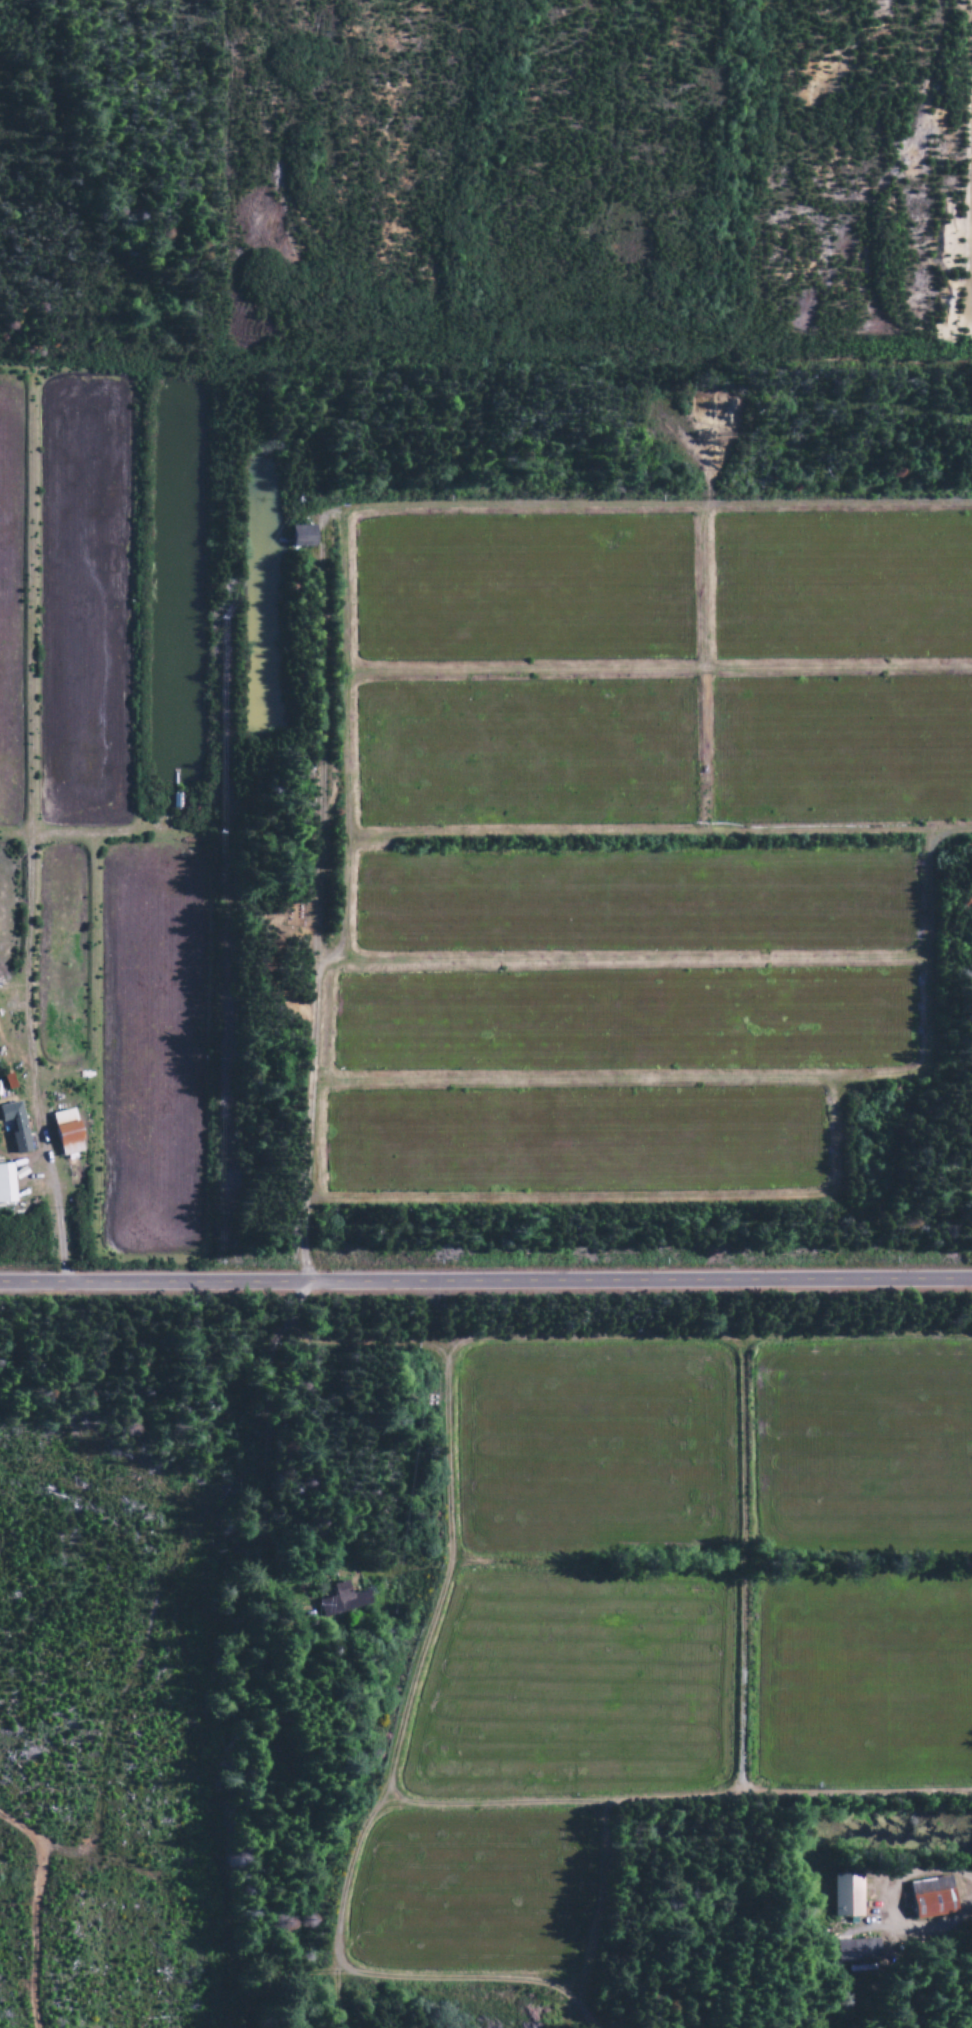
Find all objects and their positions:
airport: (104, 186)
building: (299, 536)
crop: (842, 587)
crop: (522, 590)
crop: (10, 597)
crop: (85, 603)
crop: (663, 754)
crop: (638, 901)
crop: (7, 916)
crop: (59, 960)
crop: (628, 1022)
crop: (151, 1051)
building: (14, 1127)
building: (63, 1133)
crop: (571, 1141)
building: (4, 1185)
road: (50, 1190)
road: (485, 1280)
crop: (865, 1447)
crop: (594, 1449)
building: (340, 1602)
crop: (864, 1683)
crop: (574, 1689)
crop: (472, 1894)
building: (844, 1896)
building: (928, 1897)
building: (853, 1951)

